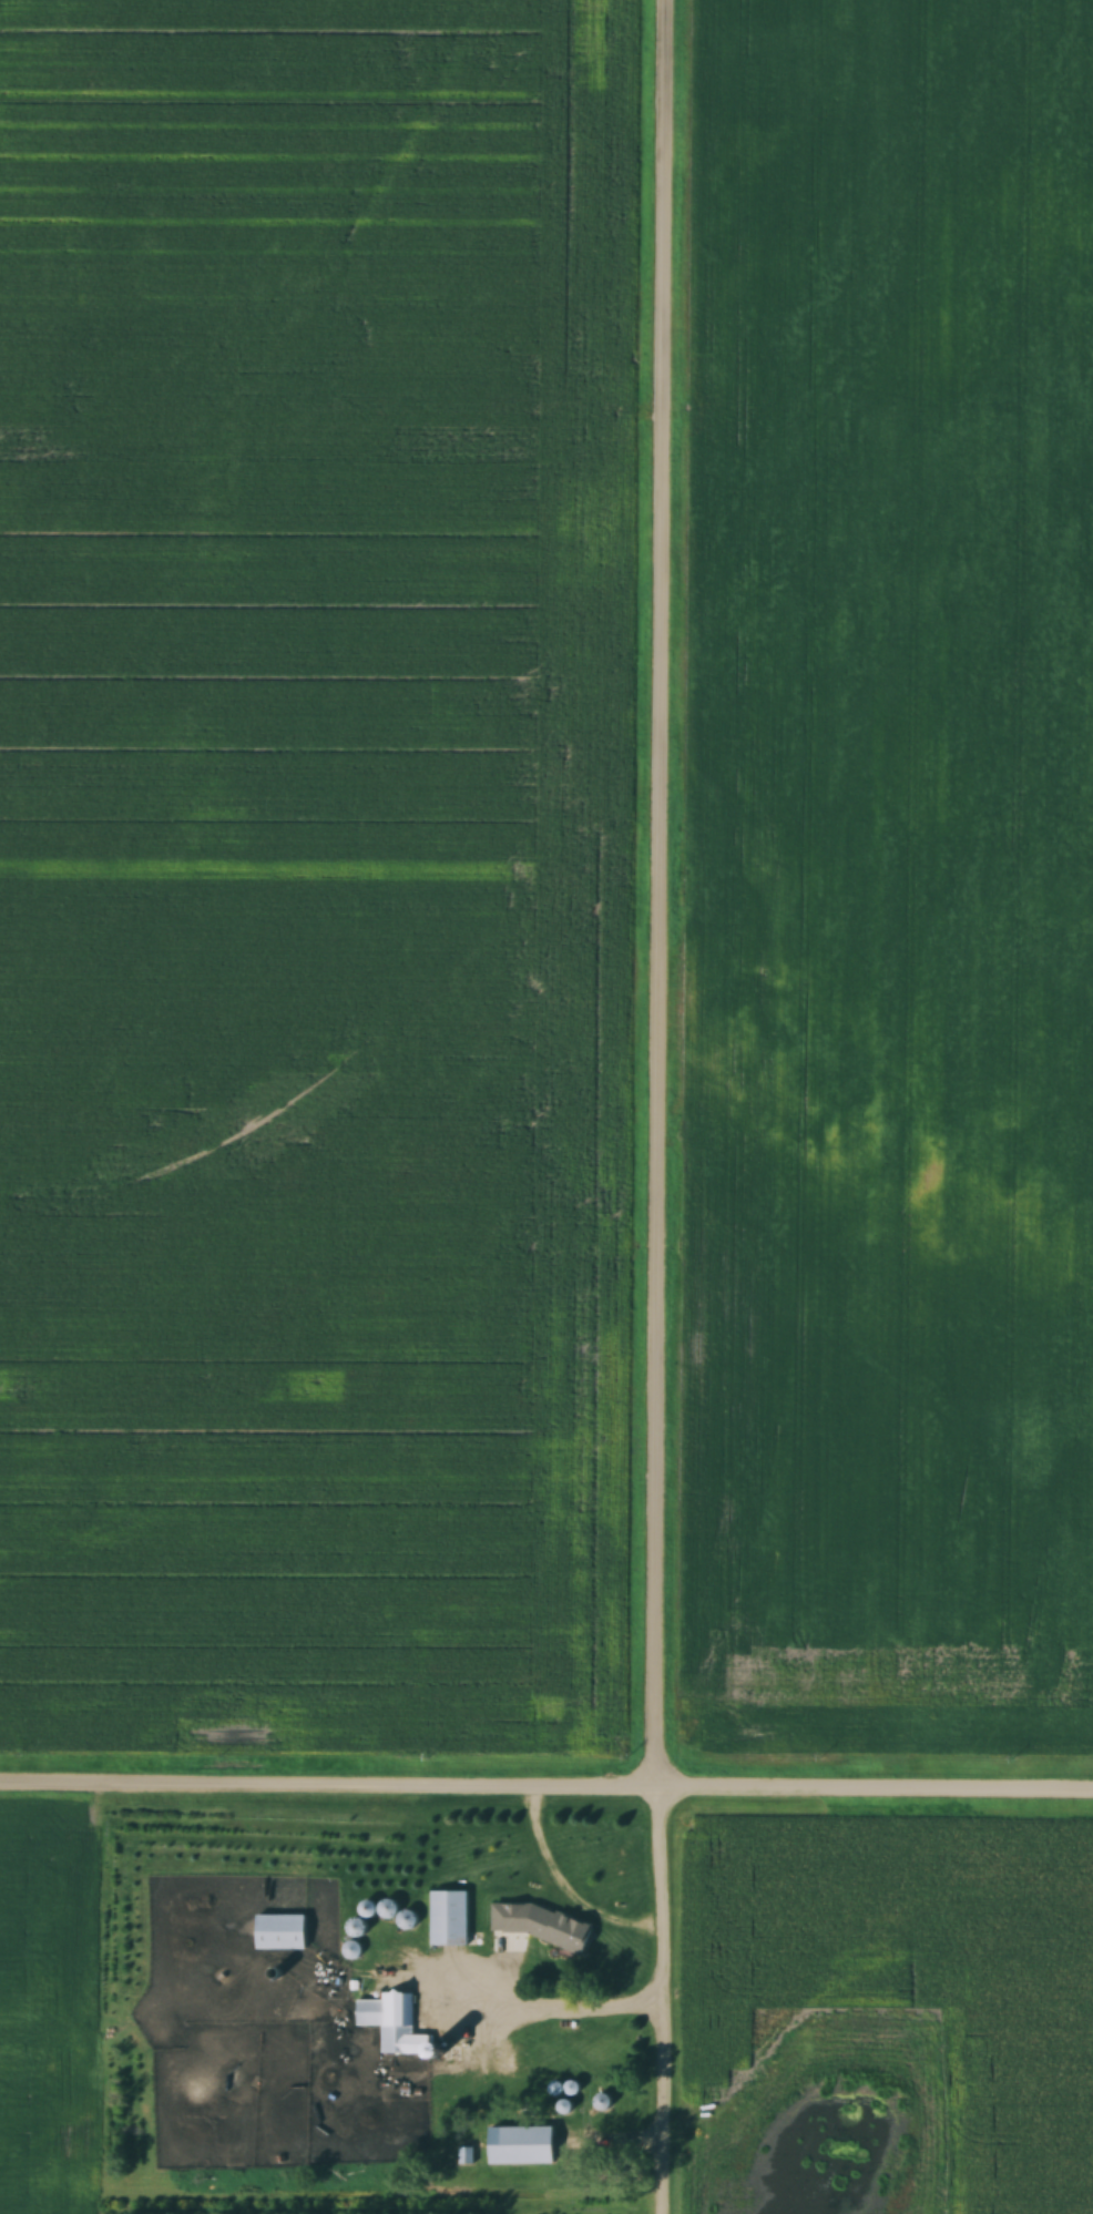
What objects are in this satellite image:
road: (663, 1106)
road: (545, 1790)
building: (387, 1909)
building: (450, 1925)
building: (356, 1926)
building: (283, 1937)
building: (522, 1953)
building: (392, 2023)
building: (523, 2152)

